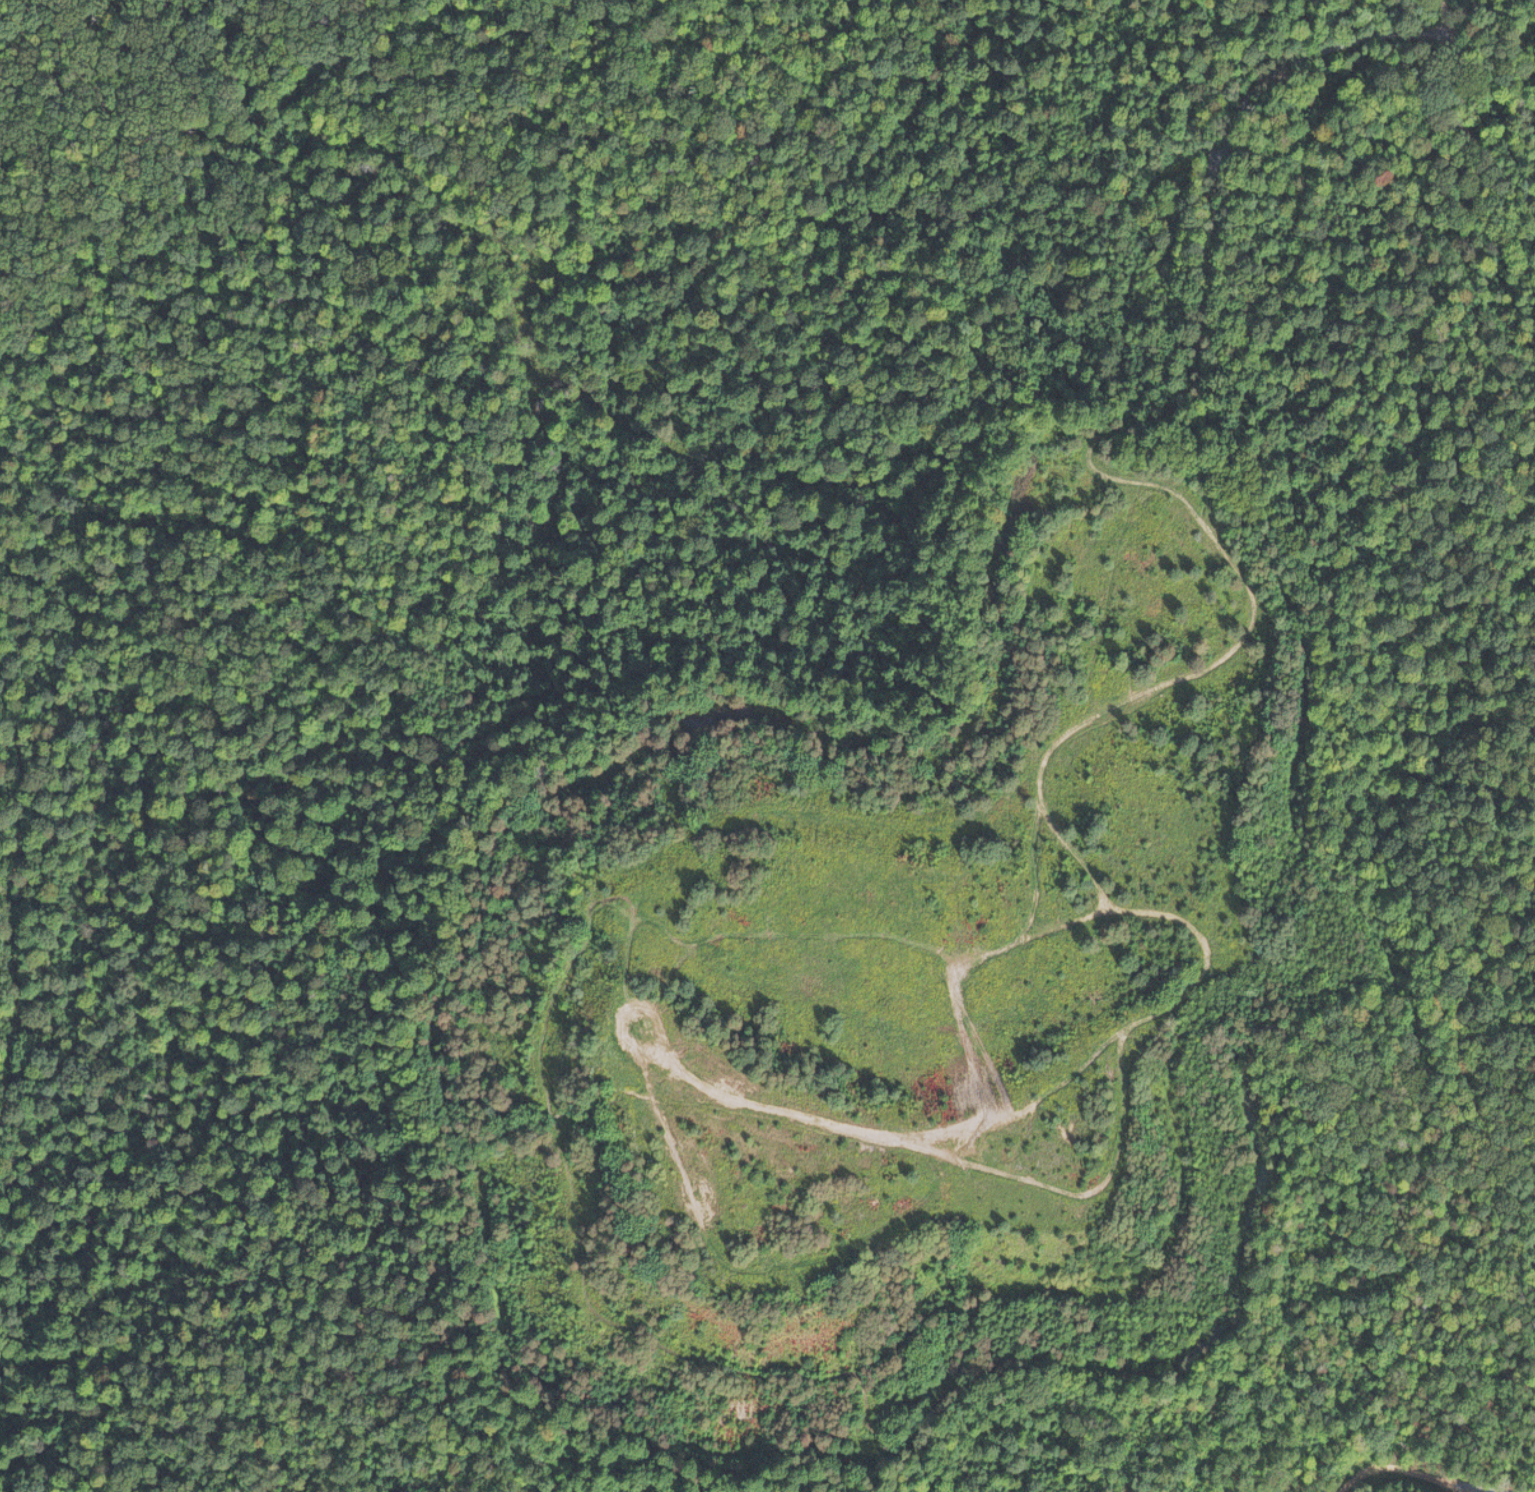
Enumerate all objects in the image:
road: (1463, 113)
road: (1210, 198)

